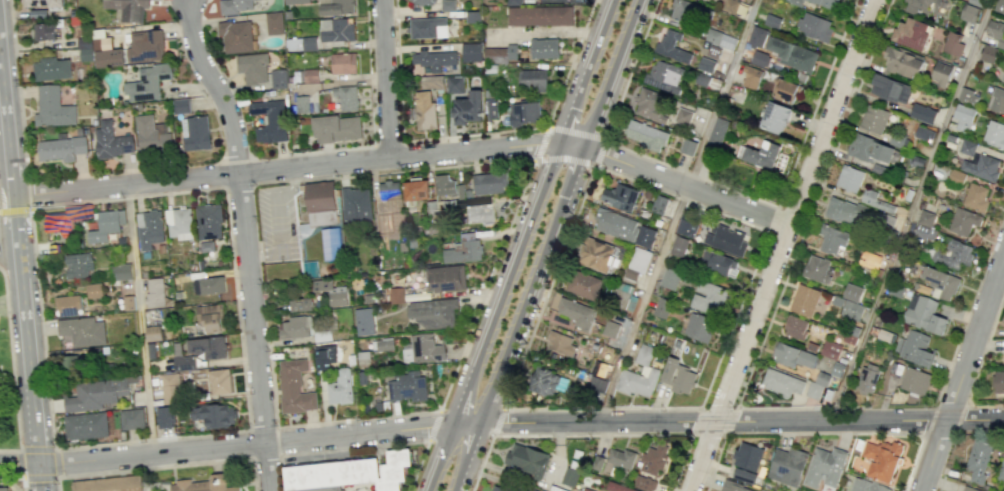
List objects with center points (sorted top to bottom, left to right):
building: (296, 2)
building: (421, 2)
building: (512, 2)
building: (975, 2)
building: (46, 3)
building: (826, 3)
building: (235, 5)
building: (446, 5)
building: (917, 6)
building: (999, 6)
building: (335, 7)
building: (128, 8)
building: (682, 11)
building: (38, 13)
building: (969, 13)
building: (539, 15)
building: (772, 21)
building: (274, 23)
building: (814, 26)
building: (427, 27)
building: (336, 29)
building: (994, 29)
building: (43, 31)
building: (911, 33)
building: (236, 36)
building: (756, 36)
building: (720, 39)
building: (301, 43)
building: (953, 43)
building: (145, 45)
building: (672, 46)
building: (544, 48)
building: (85, 49)
building: (106, 51)
building: (470, 52)
building: (499, 54)
building: (792, 54)
building: (988, 54)
building: (434, 59)
building: (760, 59)
building: (902, 62)
building: (343, 63)
building: (705, 64)
building: (252, 67)
building: (52, 68)
road: (398, 70)
building: (940, 71)
building: (310, 75)
building: (664, 76)
building: (751, 77)
building: (278, 78)
road: (386, 79)
building: (702, 79)
building: (533, 80)
building: (432, 81)
building: (148, 82)
building: (454, 84)
road: (215, 87)
building: (890, 89)
road: (18, 90)
building: (789, 91)
building: (967, 96)
building: (345, 97)
building: (997, 100)
building: (303, 104)
building: (649, 105)
building: (181, 106)
building: (53, 107)
building: (468, 108)
building: (491, 109)
building: (424, 110)
road: (371, 113)
building: (524, 113)
building: (922, 113)
building: (682, 116)
building: (775, 117)
building: (963, 117)
building: (874, 119)
building: (269, 120)
road: (541, 127)
building: (336, 128)
building: (717, 132)
building: (195, 133)
building: (923, 133)
building: (151, 134)
building: (994, 134)
building: (646, 135)
building: (111, 141)
road: (387, 143)
building: (687, 146)
building: (967, 147)
building: (61, 148)
building: (869, 149)
building: (761, 154)
road: (409, 156)
road: (526, 159)
road: (587, 162)
building: (982, 167)
building: (956, 175)
building: (849, 178)
building: (489, 183)
building: (444, 185)
road: (722, 185)
road: (238, 187)
building: (389, 189)
building: (416, 189)
road: (28, 194)
building: (620, 196)
building: (976, 197)
building: (876, 201)
building: (320, 202)
building: (659, 204)
building: (355, 205)
road: (912, 210)
road: (678, 211)
building: (845, 211)
building: (480, 214)
building: (65, 217)
building: (925, 218)
building: (963, 221)
building: (209, 222)
building: (178, 223)
building: (615, 224)
building: (106, 225)
building: (686, 227)
building: (149, 228)
building: (924, 232)
building: (646, 236)
building: (831, 238)
building: (725, 239)
building: (330, 243)
road: (522, 245)
road: (549, 245)
building: (678, 245)
road: (782, 245)
building: (206, 246)
building: (464, 249)
building: (596, 254)
building: (953, 254)
building: (638, 263)
building: (718, 263)
building: (78, 265)
building: (817, 268)
road: (23, 271)
building: (122, 271)
building: (446, 278)
building: (670, 278)
building: (940, 283)
building: (209, 285)
building: (584, 285)
building: (93, 290)
building: (331, 291)
building: (155, 292)
building: (852, 292)
building: (396, 295)
building: (709, 298)
building: (804, 300)
building: (299, 304)
building: (67, 305)
building: (661, 307)
building: (848, 308)
building: (433, 312)
building: (576, 312)
building: (924, 314)
building: (211, 317)
road: (140, 321)
building: (364, 321)
building: (795, 326)
building: (294, 327)
building: (699, 327)
building: (610, 328)
building: (82, 331)
building: (152, 333)
road: (254, 333)
building: (382, 344)
building: (561, 344)
building: (207, 347)
building: (915, 348)
building: (422, 349)
building: (830, 349)
building: (324, 356)
building: (792, 356)
building: (184, 363)
building: (69, 366)
road: (11, 368)
building: (599, 368)
road: (962, 373)
building: (639, 374)
building: (677, 376)
building: (868, 377)
building: (219, 381)
building: (914, 381)
building: (999, 381)
building: (597, 383)
building: (781, 383)
building: (407, 386)
building: (294, 387)
building: (340, 387)
building: (170, 388)
building: (96, 393)
building: (1, 403)
road: (656, 407)
road: (787, 407)
building: (215, 415)
building: (165, 416)
building: (132, 418)
road: (497, 421)
road: (308, 423)
road: (500, 424)
building: (85, 425)
road: (433, 425)
road: (822, 432)
road: (707, 433)
road: (590, 434)
road: (362, 446)
road: (57, 447)
road: (278, 455)
building: (747, 456)
building: (621, 457)
building: (653, 459)
building: (882, 459)
building: (526, 460)
building: (978, 460)
road: (55, 462)
building: (597, 462)
road: (20, 464)
road: (164, 466)
building: (787, 466)
building: (824, 467)
building: (352, 472)
building: (744, 475)
building: (569, 476)
road: (17, 478)
road: (157, 482)
building: (644, 483)
road: (940, 483)
building: (109, 484)
building: (204, 484)
building: (866, 485)
building: (617, 487)
building: (735, 487)
building: (5, 488)
building: (498, 489)
building: (586, 489)
building: (969, 489)
building: (536, 490)

